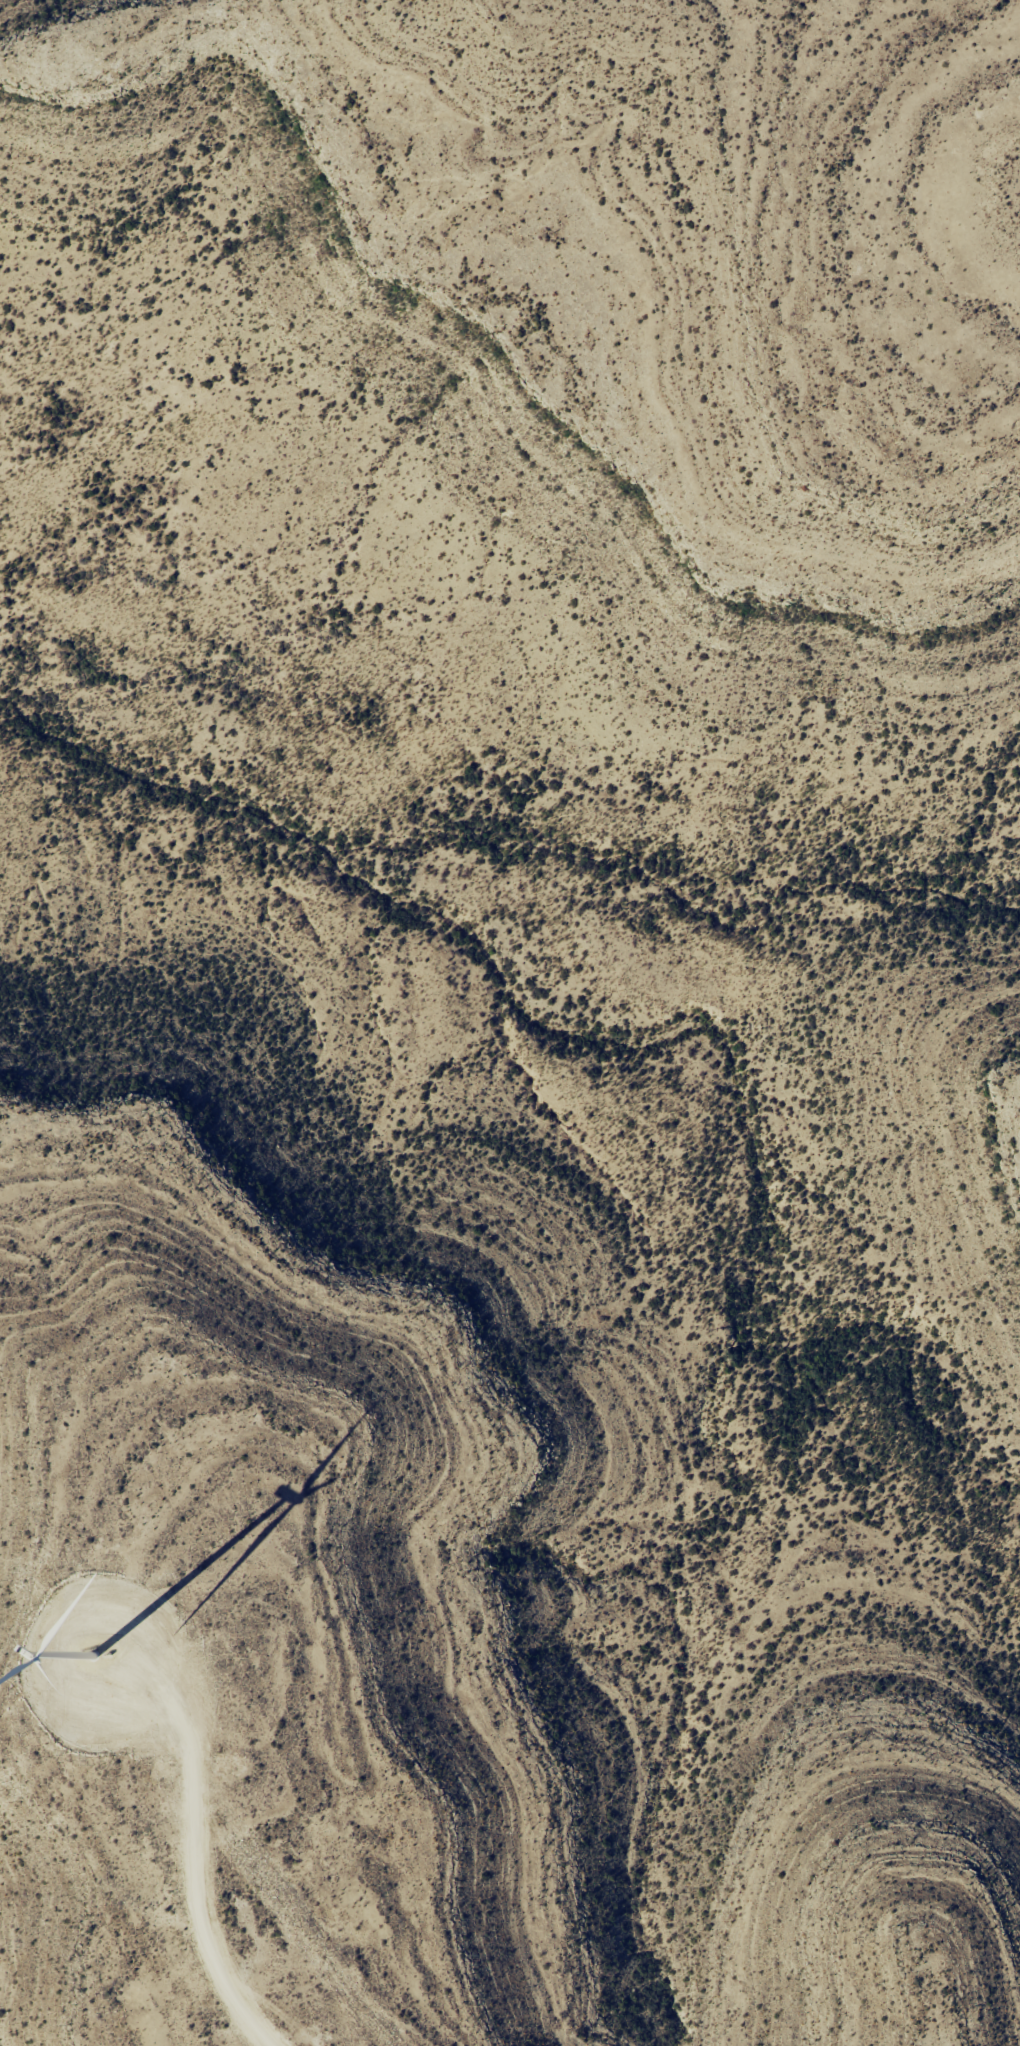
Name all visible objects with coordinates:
wind turbine: (94, 1656)

